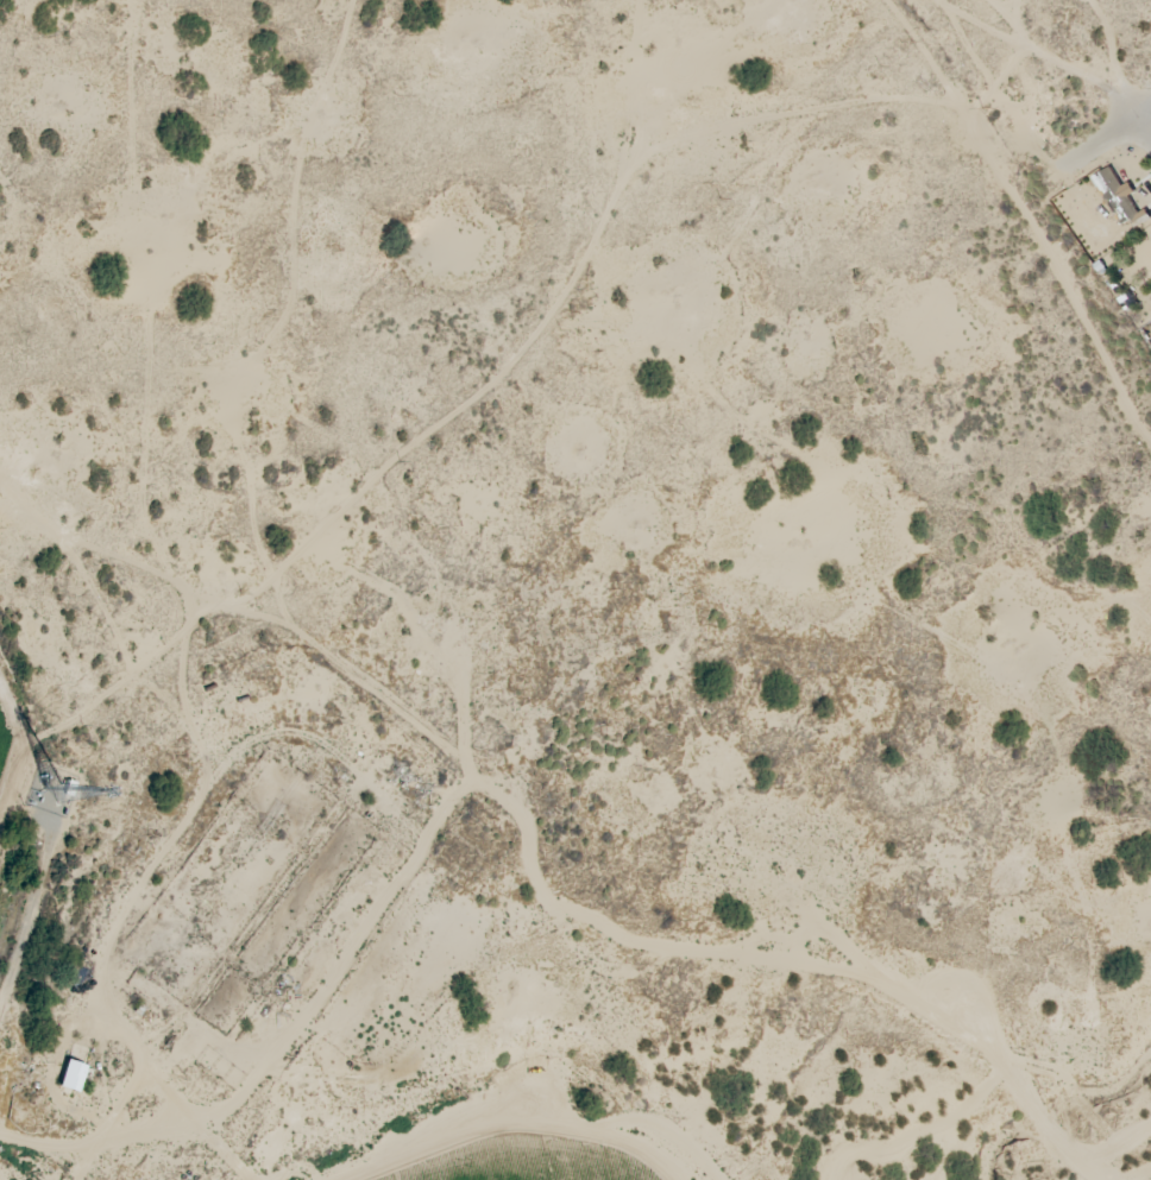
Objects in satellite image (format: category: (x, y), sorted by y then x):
road: (1124, 103)
road: (1090, 126)
building: (1120, 197)
building: (71, 1077)

